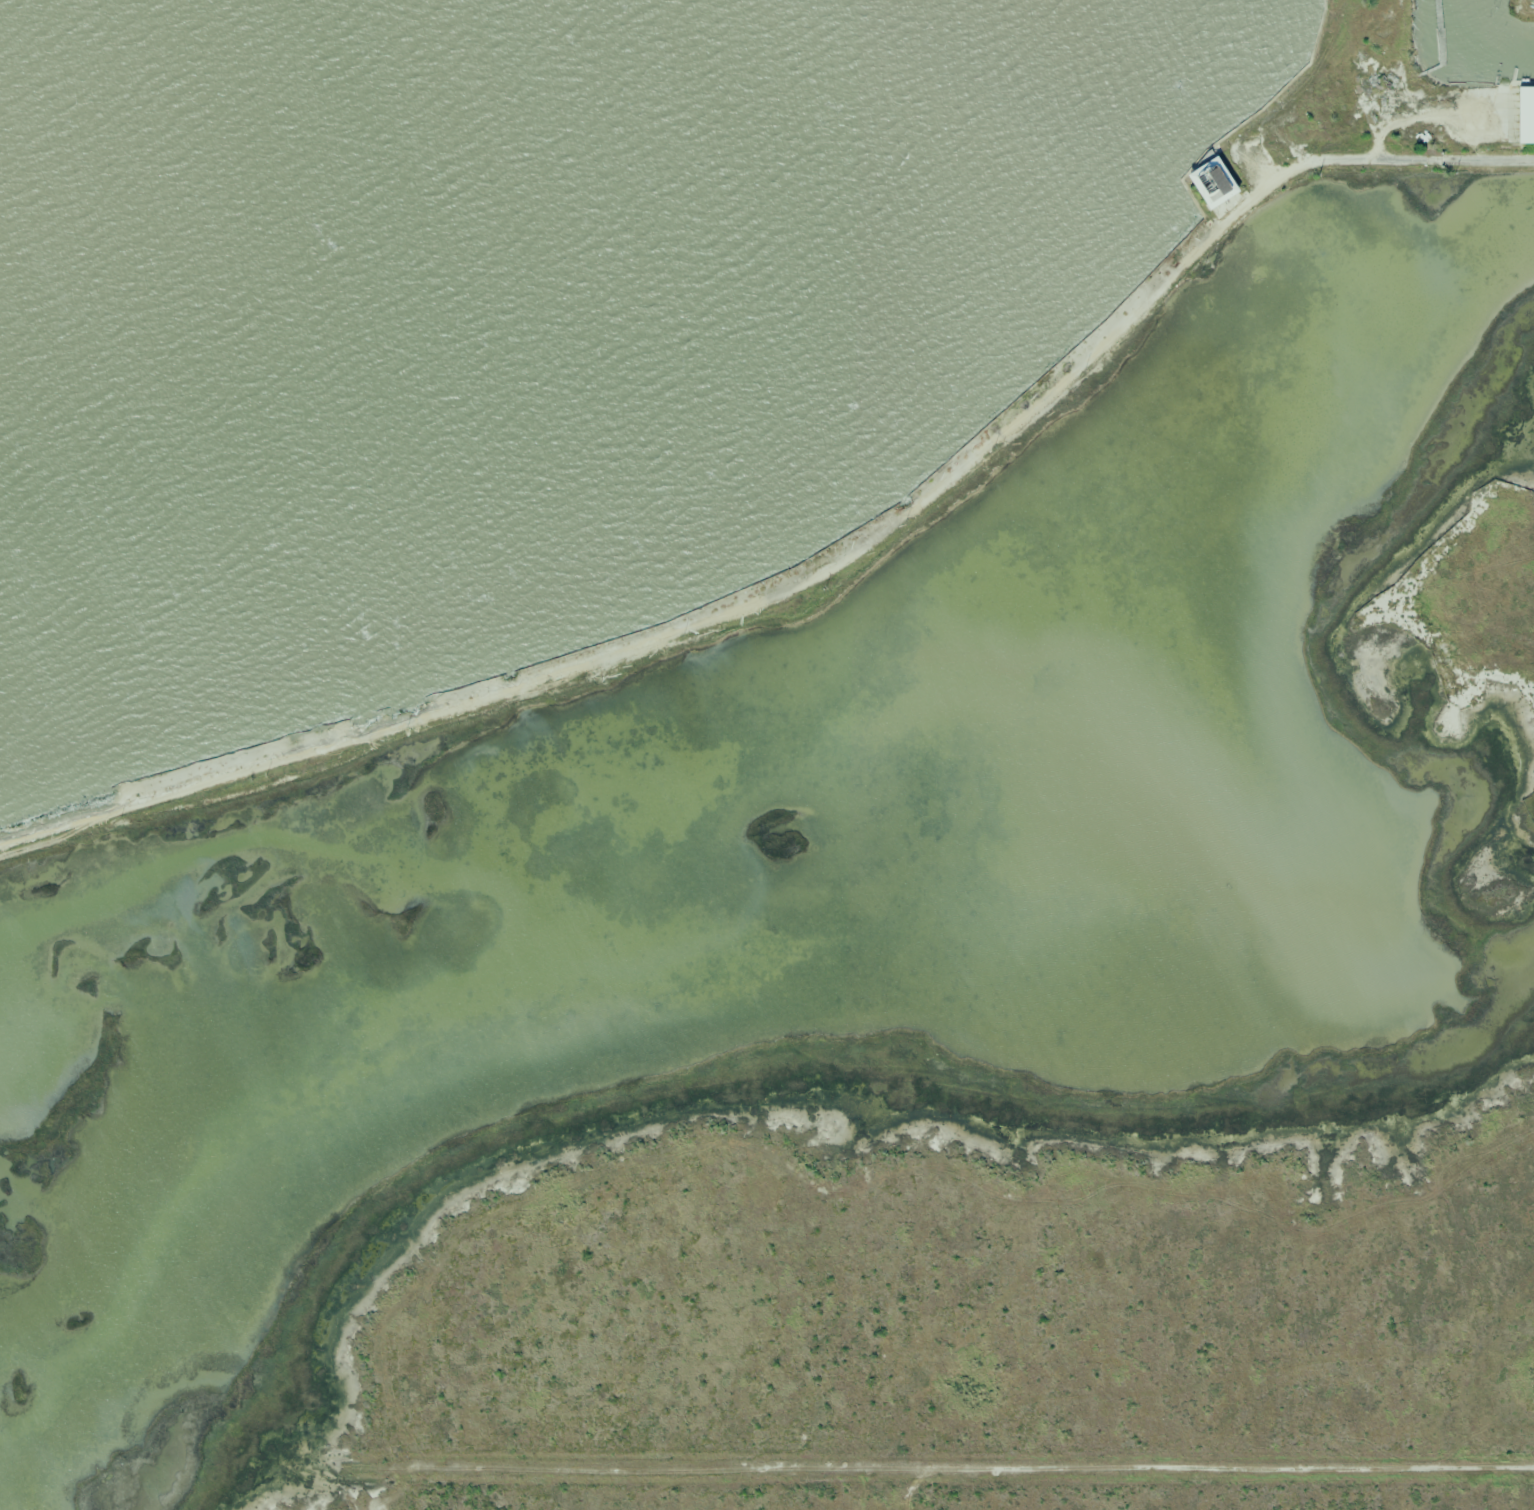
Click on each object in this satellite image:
building: (1527, 115)
building: (1218, 186)
road: (820, 568)

